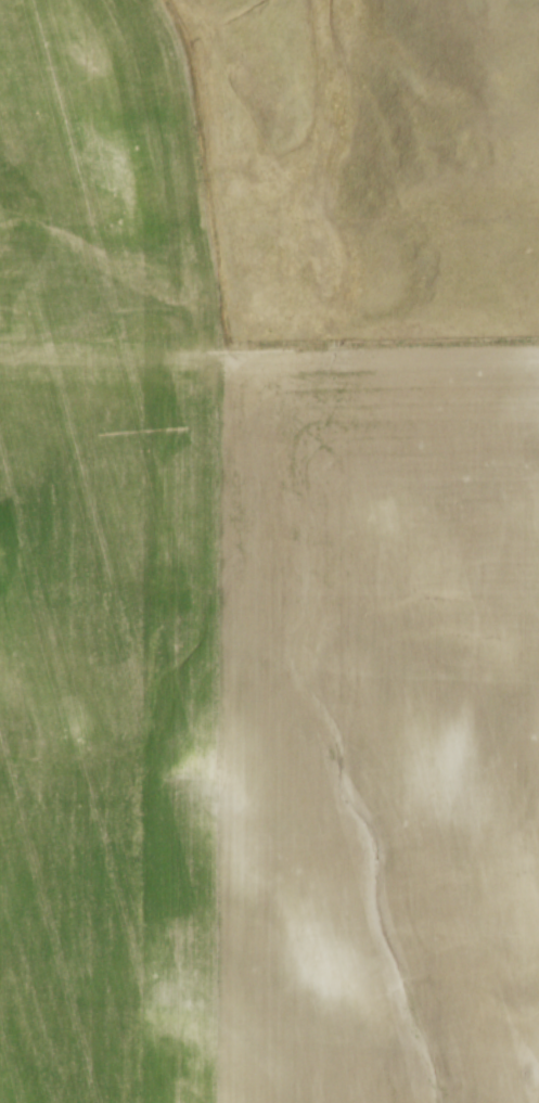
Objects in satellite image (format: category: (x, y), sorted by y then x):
crop: (245, 643)

